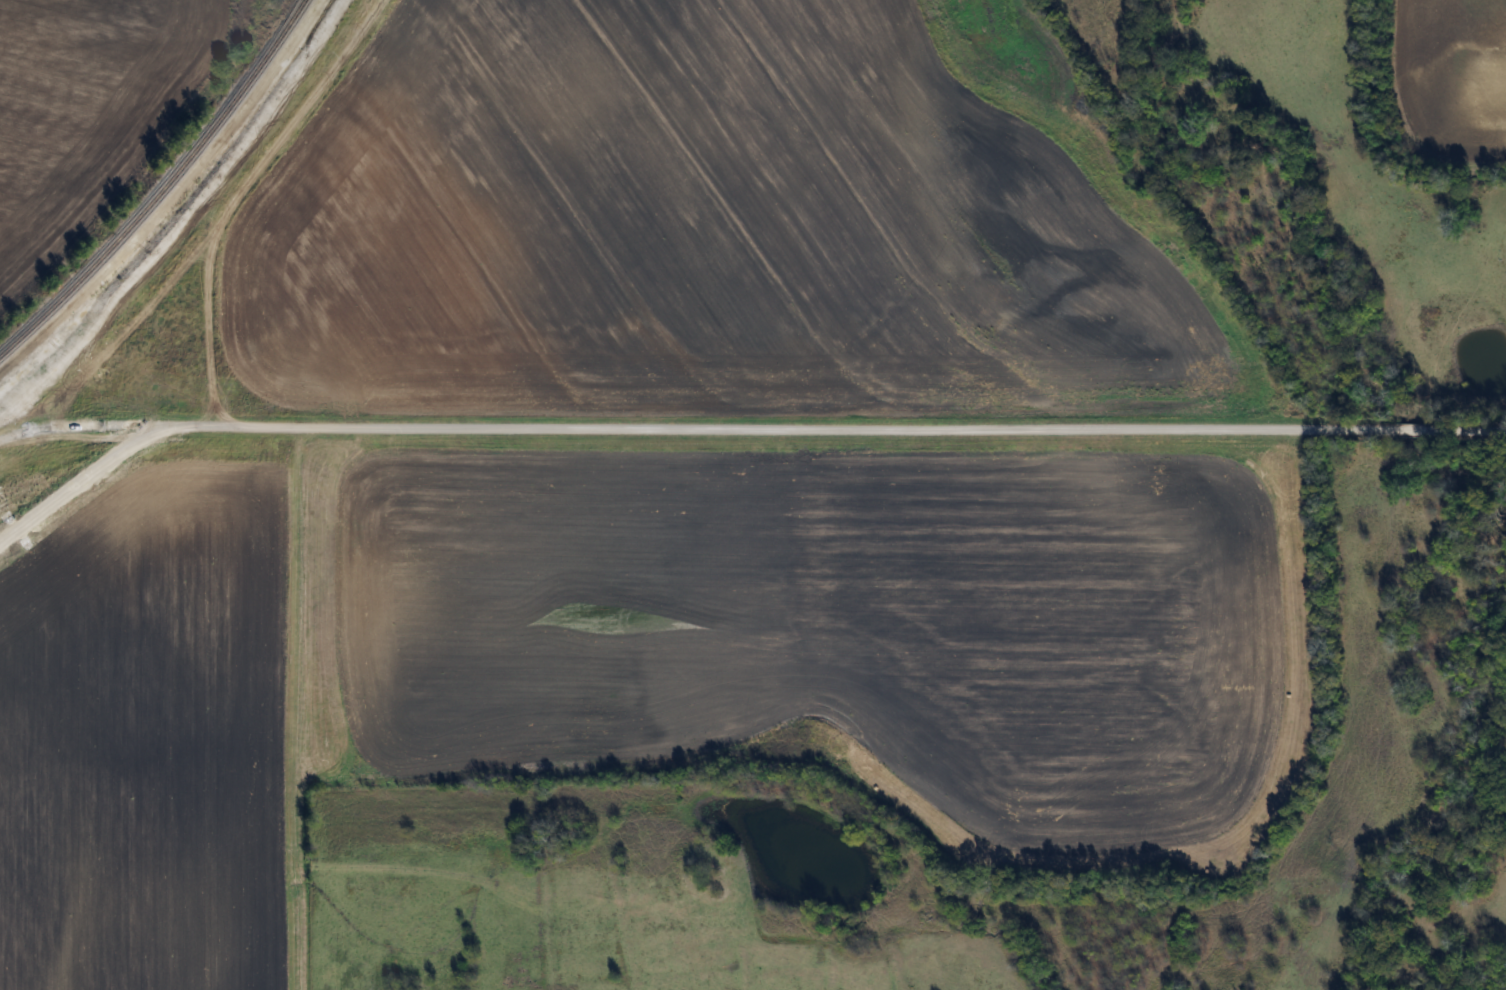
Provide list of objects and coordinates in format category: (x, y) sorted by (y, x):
railway: (162, 187)
road: (736, 428)
river: (1486, 499)
river: (1461, 854)

